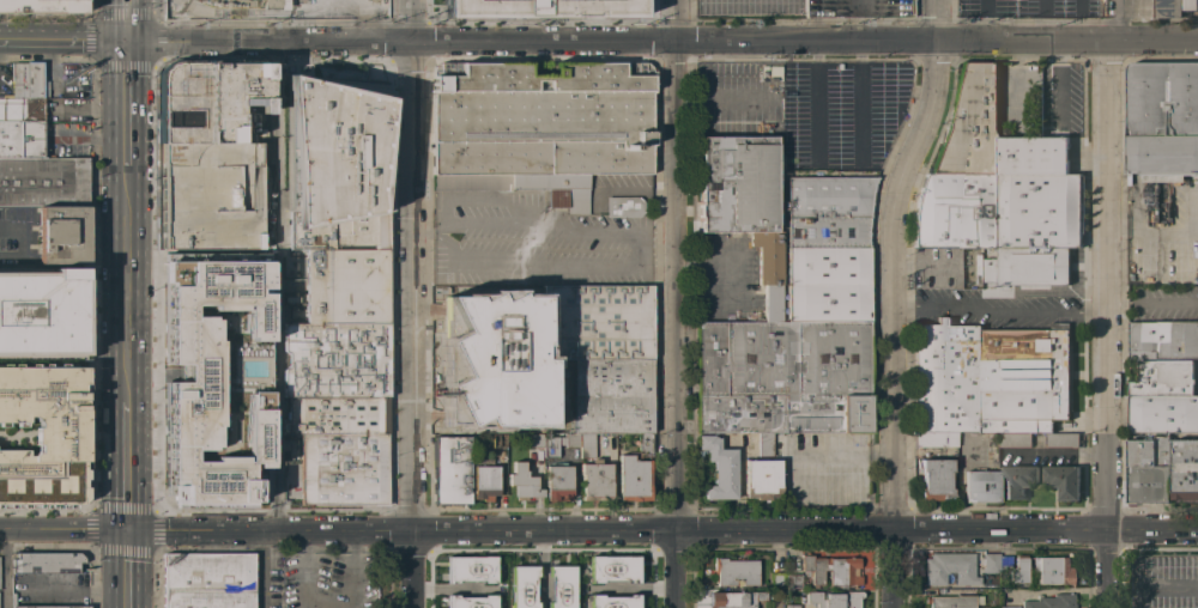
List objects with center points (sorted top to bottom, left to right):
building: (250, 2)
parking lot: (44, 5)
building: (274, 5)
building: (42, 6)
parking lot: (746, 6)
parking lot: (1024, 6)
building: (586, 7)
building: (1157, 7)
building: (486, 8)
building: (859, 8)
parking garage: (859, 8)
road: (985, 19)
road: (1043, 19)
road: (1081, 19)
road: (126, 20)
road: (62, 41)
road: (661, 41)
traffic signals: (127, 42)
parking lot: (2, 78)
road: (1063, 86)
road: (726, 98)
parking lot: (1019, 98)
parking lot: (1060, 98)
road: (813, 102)
road: (860, 103)
parking lot: (806, 108)
road: (127, 111)
building: (22, 114)
building: (1162, 120)
building: (972, 123)
building: (539, 127)
parking lot: (66, 139)
building: (331, 146)
building: (210, 156)
building: (1130, 178)
building: (43, 182)
parking lot: (615, 188)
building: (1039, 194)
building: (742, 196)
building: (623, 207)
building: (828, 211)
building: (957, 211)
parking lot: (17, 236)
building: (62, 236)
road: (425, 236)
parking lot: (1162, 236)
road: (443, 237)
road: (22, 241)
parking lot: (531, 243)
road: (676, 265)
building: (1029, 267)
parking lot: (938, 268)
building: (828, 285)
road: (278, 286)
building: (345, 286)
road: (127, 287)
road: (896, 300)
building: (773, 303)
parking lot: (1163, 303)
road: (409, 304)
parking lot: (996, 306)
road: (1000, 309)
building: (40, 314)
parking lot: (485, 322)
building: (597, 323)
road: (1107, 323)
building: (1163, 339)
building: (335, 359)
building: (792, 370)
building: (992, 377)
building: (1163, 377)
building: (212, 382)
parking lot: (498, 396)
building: (611, 396)
building: (1163, 413)
building: (740, 414)
building: (43, 436)
building: (936, 439)
building: (1015, 439)
building: (1061, 439)
building: (498, 440)
building: (534, 442)
building: (764, 444)
building: (569, 445)
building: (586, 446)
building: (340, 449)
road: (847, 456)
road: (127, 461)
building: (719, 469)
building: (1149, 469)
building: (1185, 469)
building: (452, 470)
building: (635, 472)
building: (484, 479)
building: (762, 479)
building: (934, 480)
building: (1018, 480)
building: (1064, 480)
building: (595, 481)
building: (522, 482)
building: (558, 484)
building: (981, 487)
road: (63, 528)
traffic signals: (128, 529)
road: (404, 529)
road: (938, 529)
building: (1003, 563)
building: (46, 564)
building: (990, 564)
road: (5, 567)
building: (497, 567)
road: (128, 569)
road: (261, 569)
road: (678, 569)
building: (950, 569)
building: (522, 570)
building: (551, 571)
building: (736, 571)
building: (831, 571)
building: (1018, 571)
building: (1052, 571)
building: (467, 572)
building: (606, 572)
building: (207, 579)
building: (776, 579)
building: (793, 580)
building: (736, 598)
building: (556, 600)
building: (834, 600)
road: (329, 601)
building: (472, 601)
building: (950, 601)
building: (1049, 601)
building: (613, 602)
building: (54, 607)
building: (530, 607)
building: (792, 607)
building: (1009, 607)

